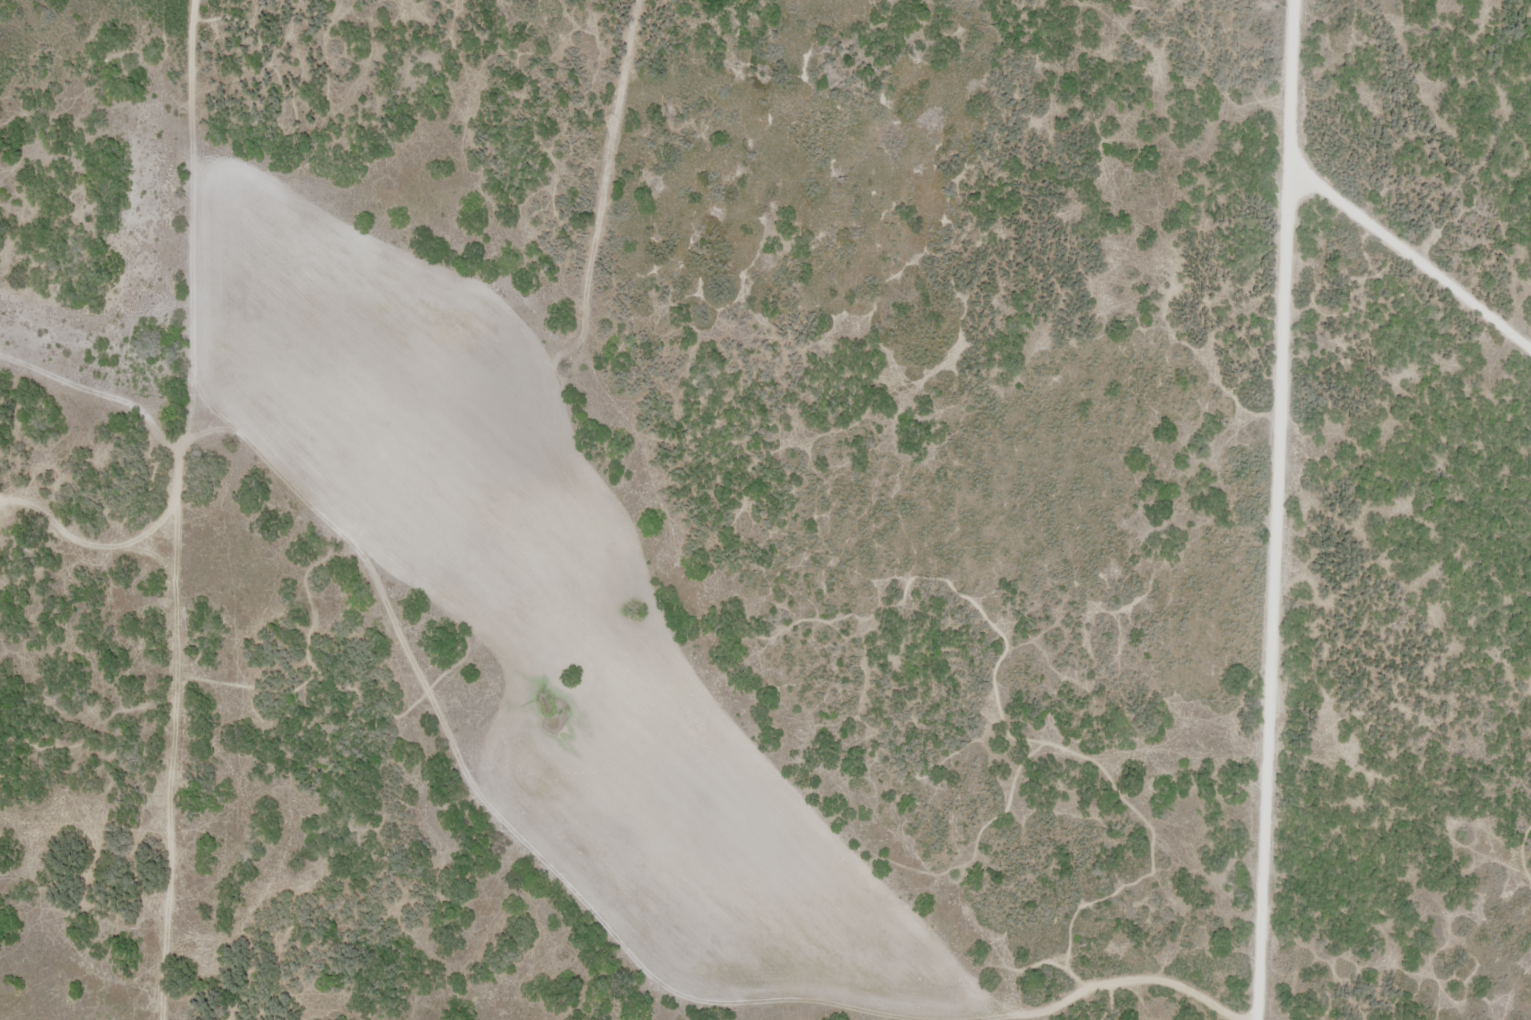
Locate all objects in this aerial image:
road: (145, 510)

